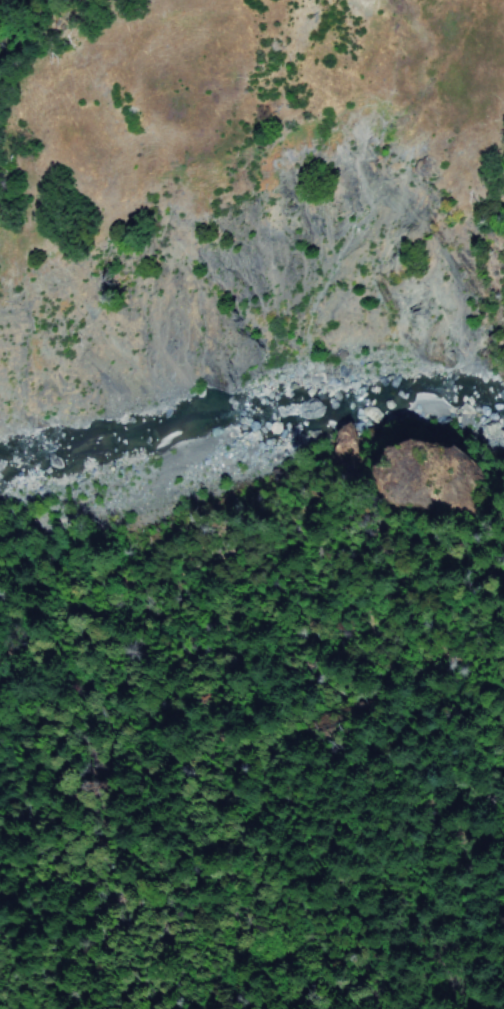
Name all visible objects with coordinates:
river: (241, 413)
river: (497, 419)

